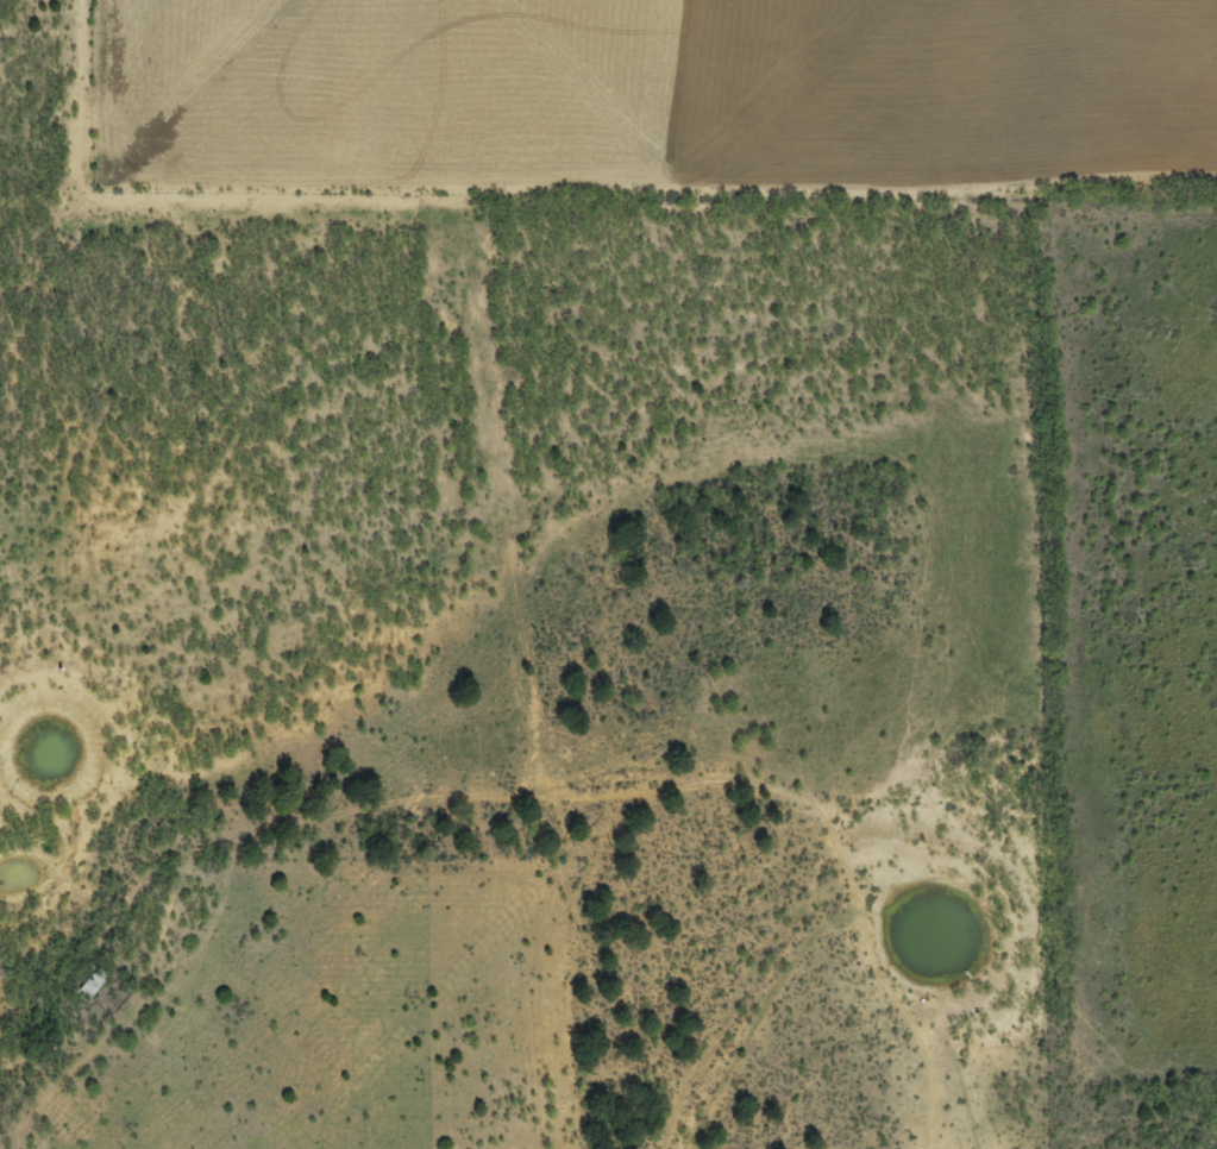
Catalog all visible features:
road: (379, 868)
road: (849, 902)
building: (93, 982)

